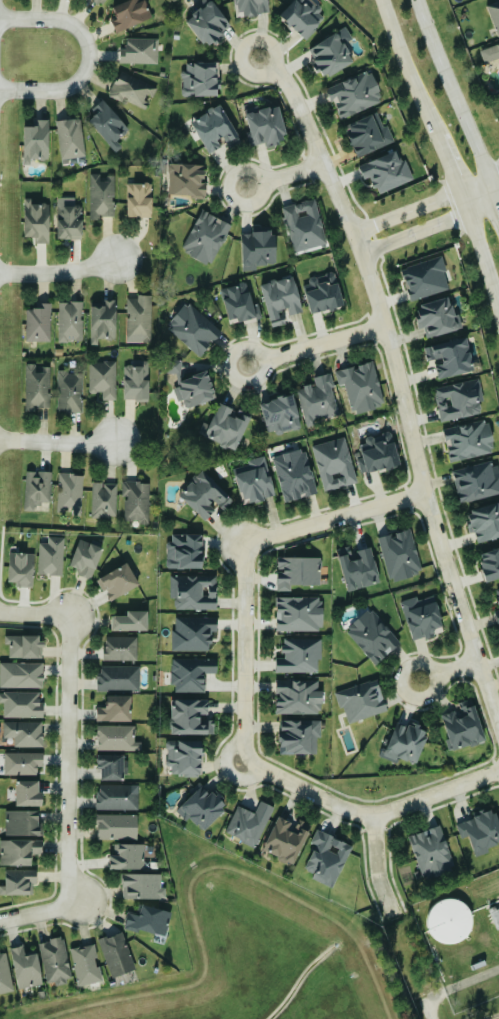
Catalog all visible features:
building: (98, 1)
building: (250, 7)
building: (130, 13)
building: (494, 14)
building: (302, 15)
building: (207, 22)
building: (140, 50)
building: (331, 52)
building: (490, 52)
road: (86, 54)
road: (408, 69)
building: (200, 79)
building: (133, 89)
building: (354, 94)
road: (453, 100)
building: (107, 124)
building: (266, 125)
building: (215, 129)
building: (368, 134)
building: (70, 138)
building: (35, 141)
road: (447, 165)
building: (386, 171)
road: (284, 175)
building: (186, 180)
building: (101, 196)
building: (139, 199)
road: (426, 204)
road: (496, 205)
building: (68, 219)
building: (36, 221)
road: (430, 224)
building: (304, 225)
building: (206, 237)
building: (257, 247)
road: (480, 253)
road: (58, 274)
building: (425, 278)
building: (322, 293)
building: (280, 299)
building: (239, 302)
building: (438, 317)
building: (139, 318)
building: (71, 321)
building: (103, 321)
building: (38, 323)
building: (193, 328)
road: (315, 345)
building: (450, 357)
building: (103, 378)
road: (398, 379)
building: (136, 381)
building: (191, 385)
building: (38, 386)
building: (361, 386)
building: (70, 391)
building: (318, 399)
building: (459, 399)
building: (280, 414)
building: (225, 426)
building: (469, 440)
road: (57, 444)
building: (377, 453)
building: (334, 463)
building: (294, 475)
building: (254, 480)
building: (476, 481)
building: (37, 488)
building: (70, 493)
building: (205, 495)
building: (104, 499)
building: (136, 501)
road: (335, 517)
building: (484, 522)
building: (184, 551)
building: (400, 555)
building: (51, 556)
building: (85, 558)
building: (489, 564)
building: (357, 568)
building: (20, 569)
building: (297, 572)
building: (118, 582)
building: (194, 592)
building: (497, 593)
building: (299, 613)
road: (34, 615)
building: (497, 615)
building: (422, 616)
building: (130, 621)
building: (193, 633)
building: (373, 636)
building: (24, 646)
building: (121, 648)
road: (244, 650)
building: (299, 655)
road: (407, 668)
building: (191, 673)
building: (21, 675)
building: (119, 678)
building: (298, 697)
building: (361, 700)
building: (21, 704)
building: (114, 709)
building: (190, 717)
building: (463, 726)
building: (24, 733)
building: (299, 736)
building: (117, 738)
building: (406, 742)
road: (227, 750)
road: (67, 756)
building: (185, 757)
building: (22, 763)
building: (111, 767)
road: (244, 778)
building: (28, 794)
building: (117, 796)
building: (201, 808)
road: (370, 812)
building: (23, 822)
building: (249, 823)
building: (116, 826)
building: (481, 831)
building: (286, 839)
building: (19, 850)
building: (430, 851)
building: (127, 856)
building: (327, 858)
road: (377, 864)
building: (18, 881)
building: (142, 885)
road: (498, 900)
road: (37, 913)
building: (149, 919)
building: (116, 953)
building: (55, 960)
building: (86, 964)
building: (25, 967)
building: (5, 973)
road: (455, 986)

